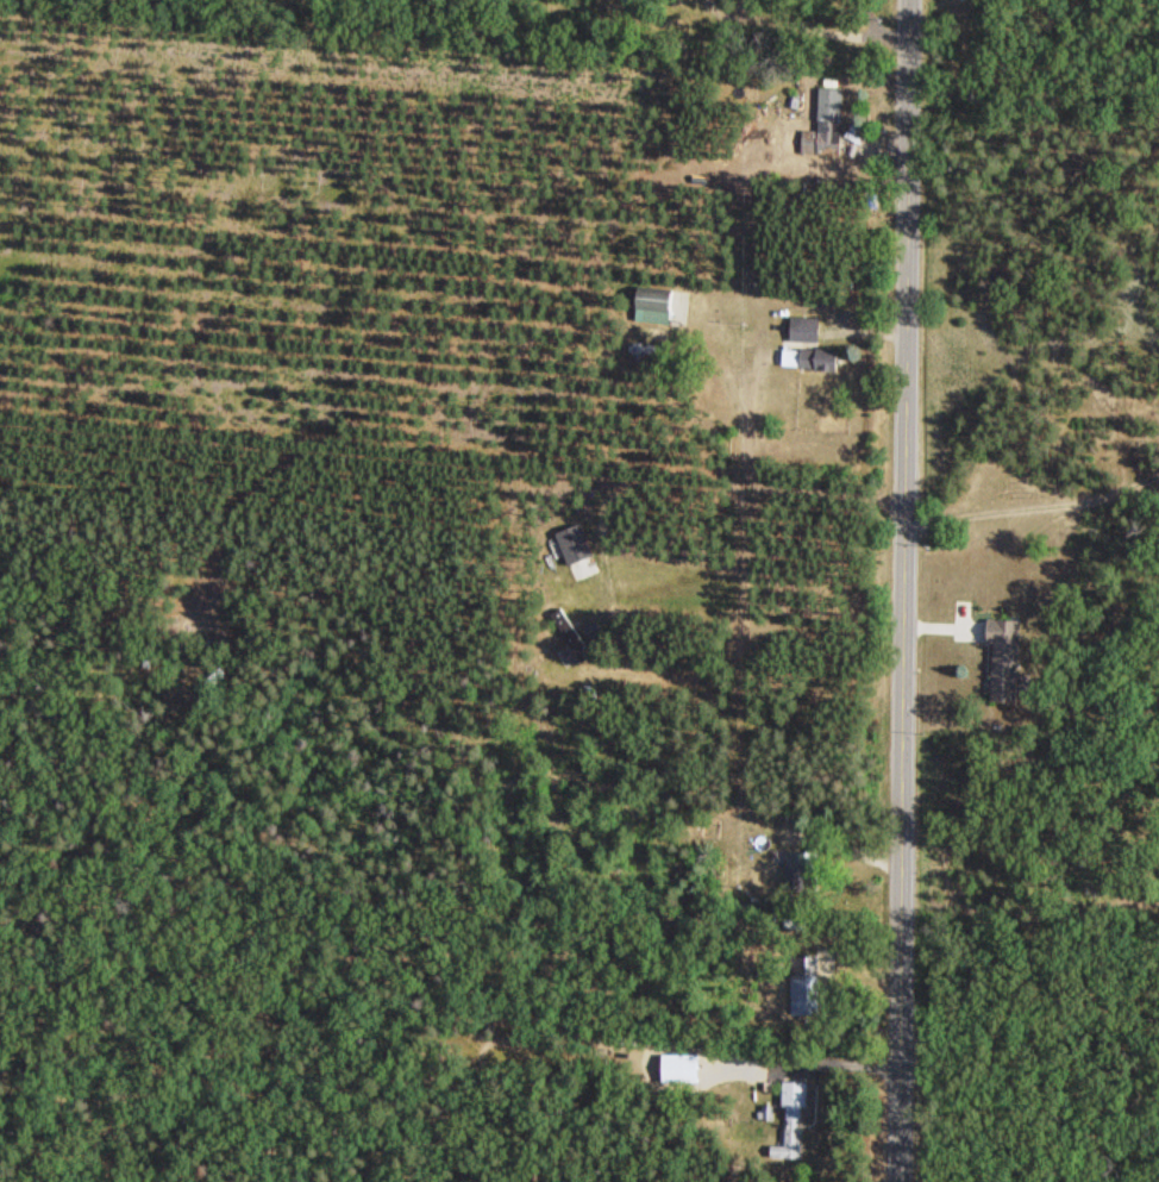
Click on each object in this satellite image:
building: (834, 107)
building: (658, 308)
building: (796, 357)
building: (584, 568)
road: (906, 590)
building: (1002, 656)
building: (804, 869)
building: (806, 983)
building: (679, 1067)
building: (791, 1121)

